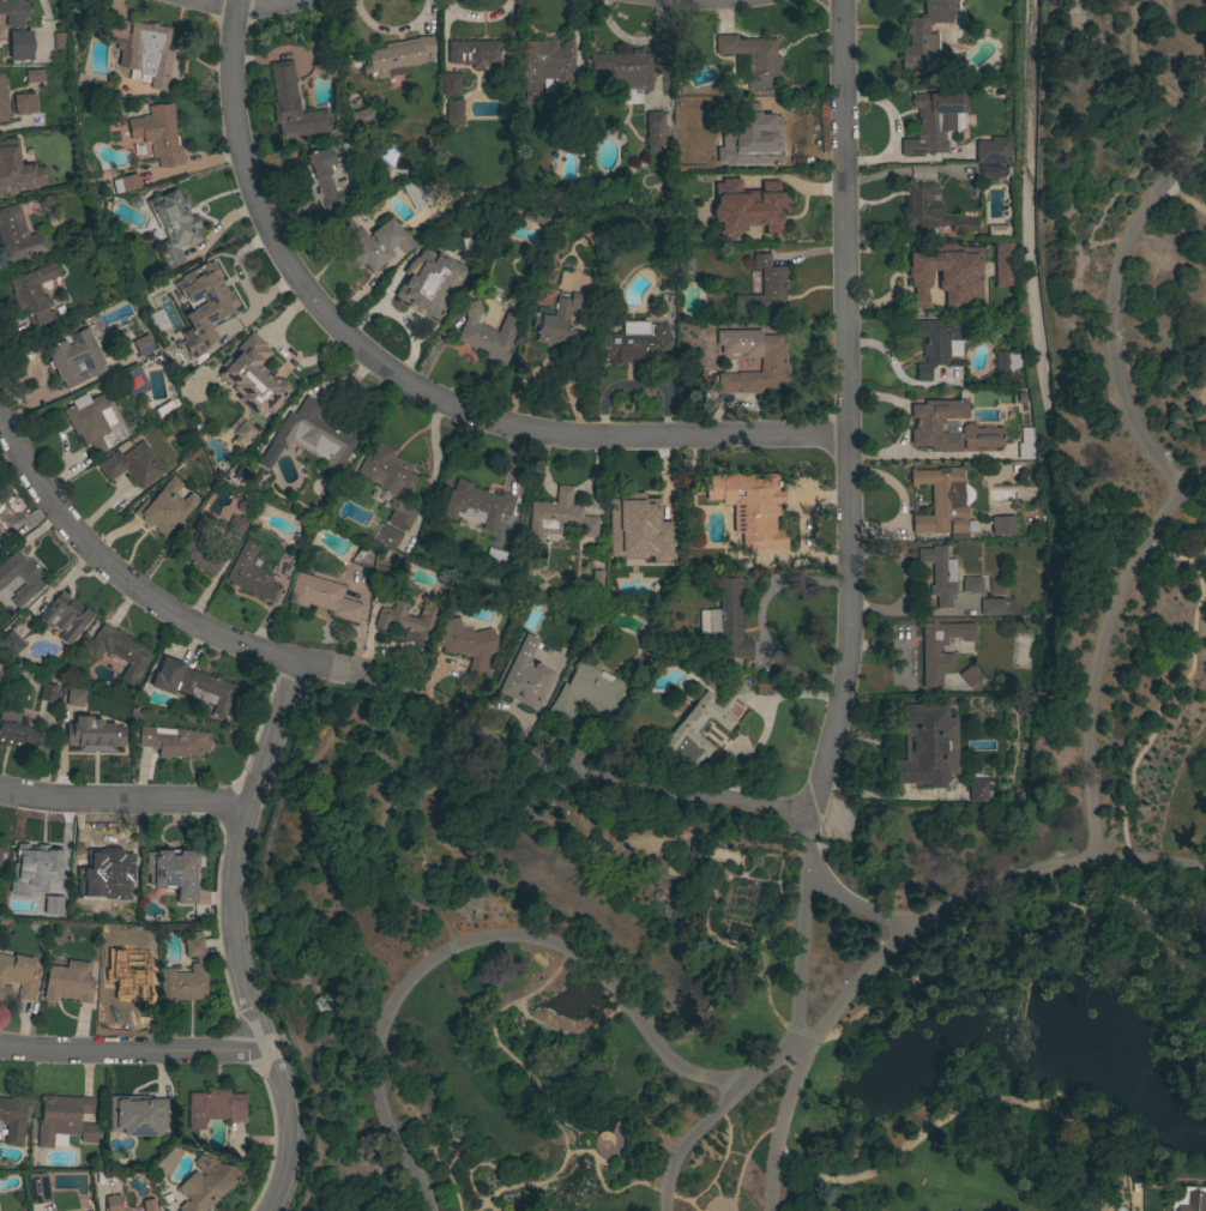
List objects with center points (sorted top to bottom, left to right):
road: (233, 2)
road: (235, 5)
building: (13, 12)
building: (113, 28)
building: (927, 36)
building: (59, 40)
building: (20, 44)
building: (150, 53)
building: (477, 53)
building: (398, 56)
building: (753, 58)
building: (544, 67)
road: (1141, 72)
building: (625, 73)
building: (35, 76)
building: (450, 84)
building: (2, 101)
building: (24, 103)
building: (293, 106)
building: (454, 113)
building: (361, 116)
building: (931, 122)
building: (735, 128)
building: (657, 132)
building: (158, 134)
building: (758, 135)
building: (993, 150)
building: (17, 168)
building: (989, 173)
building: (326, 180)
building: (125, 183)
building: (426, 192)
building: (746, 206)
building: (931, 210)
building: (174, 225)
building: (995, 230)
building: (18, 235)
building: (372, 241)
building: (685, 260)
building: (999, 265)
building: (925, 267)
building: (439, 279)
building: (764, 289)
building: (32, 294)
building: (990, 299)
road: (1111, 305)
building: (204, 306)
building: (556, 319)
building: (487, 333)
building: (632, 342)
building: (937, 343)
building: (139, 347)
building: (74, 359)
building: (772, 361)
building: (1005, 361)
road: (548, 367)
building: (253, 378)
road: (411, 382)
road: (1200, 391)
road: (845, 406)
building: (95, 422)
building: (927, 426)
building: (242, 433)
building: (309, 438)
building: (1025, 444)
building: (133, 464)
road: (1205, 469)
building: (241, 472)
building: (390, 481)
building: (942, 501)
building: (477, 505)
building: (164, 507)
building: (750, 507)
building: (559, 516)
building: (1002, 525)
building: (235, 526)
building: (635, 530)
road: (1184, 530)
building: (387, 537)
building: (198, 547)
building: (495, 556)
building: (363, 558)
road: (1180, 560)
building: (251, 573)
building: (940, 574)
building: (19, 577)
building: (971, 584)
building: (322, 596)
building: (380, 597)
building: (996, 605)
road: (165, 609)
building: (65, 617)
building: (726, 619)
building: (408, 621)
building: (11, 643)
building: (470, 646)
road: (1101, 647)
building: (940, 649)
building: (116, 650)
building: (523, 675)
building: (2, 676)
building: (967, 676)
building: (193, 685)
building: (48, 692)
building: (586, 692)
building: (72, 699)
road: (1156, 709)
building: (700, 725)
building: (18, 731)
building: (83, 739)
building: (176, 741)
building: (925, 746)
building: (976, 789)
road: (711, 797)
road: (122, 799)
park: (820, 844)
building: (0, 851)
building: (710, 854)
building: (36, 862)
building: (103, 863)
road: (368, 867)
building: (170, 870)
building: (59, 900)
road: (855, 906)
building: (128, 910)
road: (804, 927)
building: (110, 934)
road: (902, 936)
road: (234, 938)
road: (971, 962)
road: (601, 971)
building: (186, 974)
building: (17, 977)
building: (68, 982)
building: (123, 986)
road: (396, 1001)
road: (133, 1050)
road: (663, 1050)
road: (536, 1084)
building: (215, 1107)
road: (966, 1108)
building: (137, 1115)
road: (712, 1115)
building: (12, 1119)
building: (65, 1119)
road: (360, 1144)
road: (577, 1150)
road: (567, 1151)
road: (734, 1151)
road: (744, 1155)
road: (720, 1159)
building: (168, 1161)
building: (204, 1163)
road: (472, 1164)
building: (37, 1187)
building: (206, 1187)
road: (613, 1191)
road: (866, 1192)
road: (717, 1197)
road: (685, 1199)
building: (1187, 1199)
building: (113, 1203)
building: (147, 1205)

